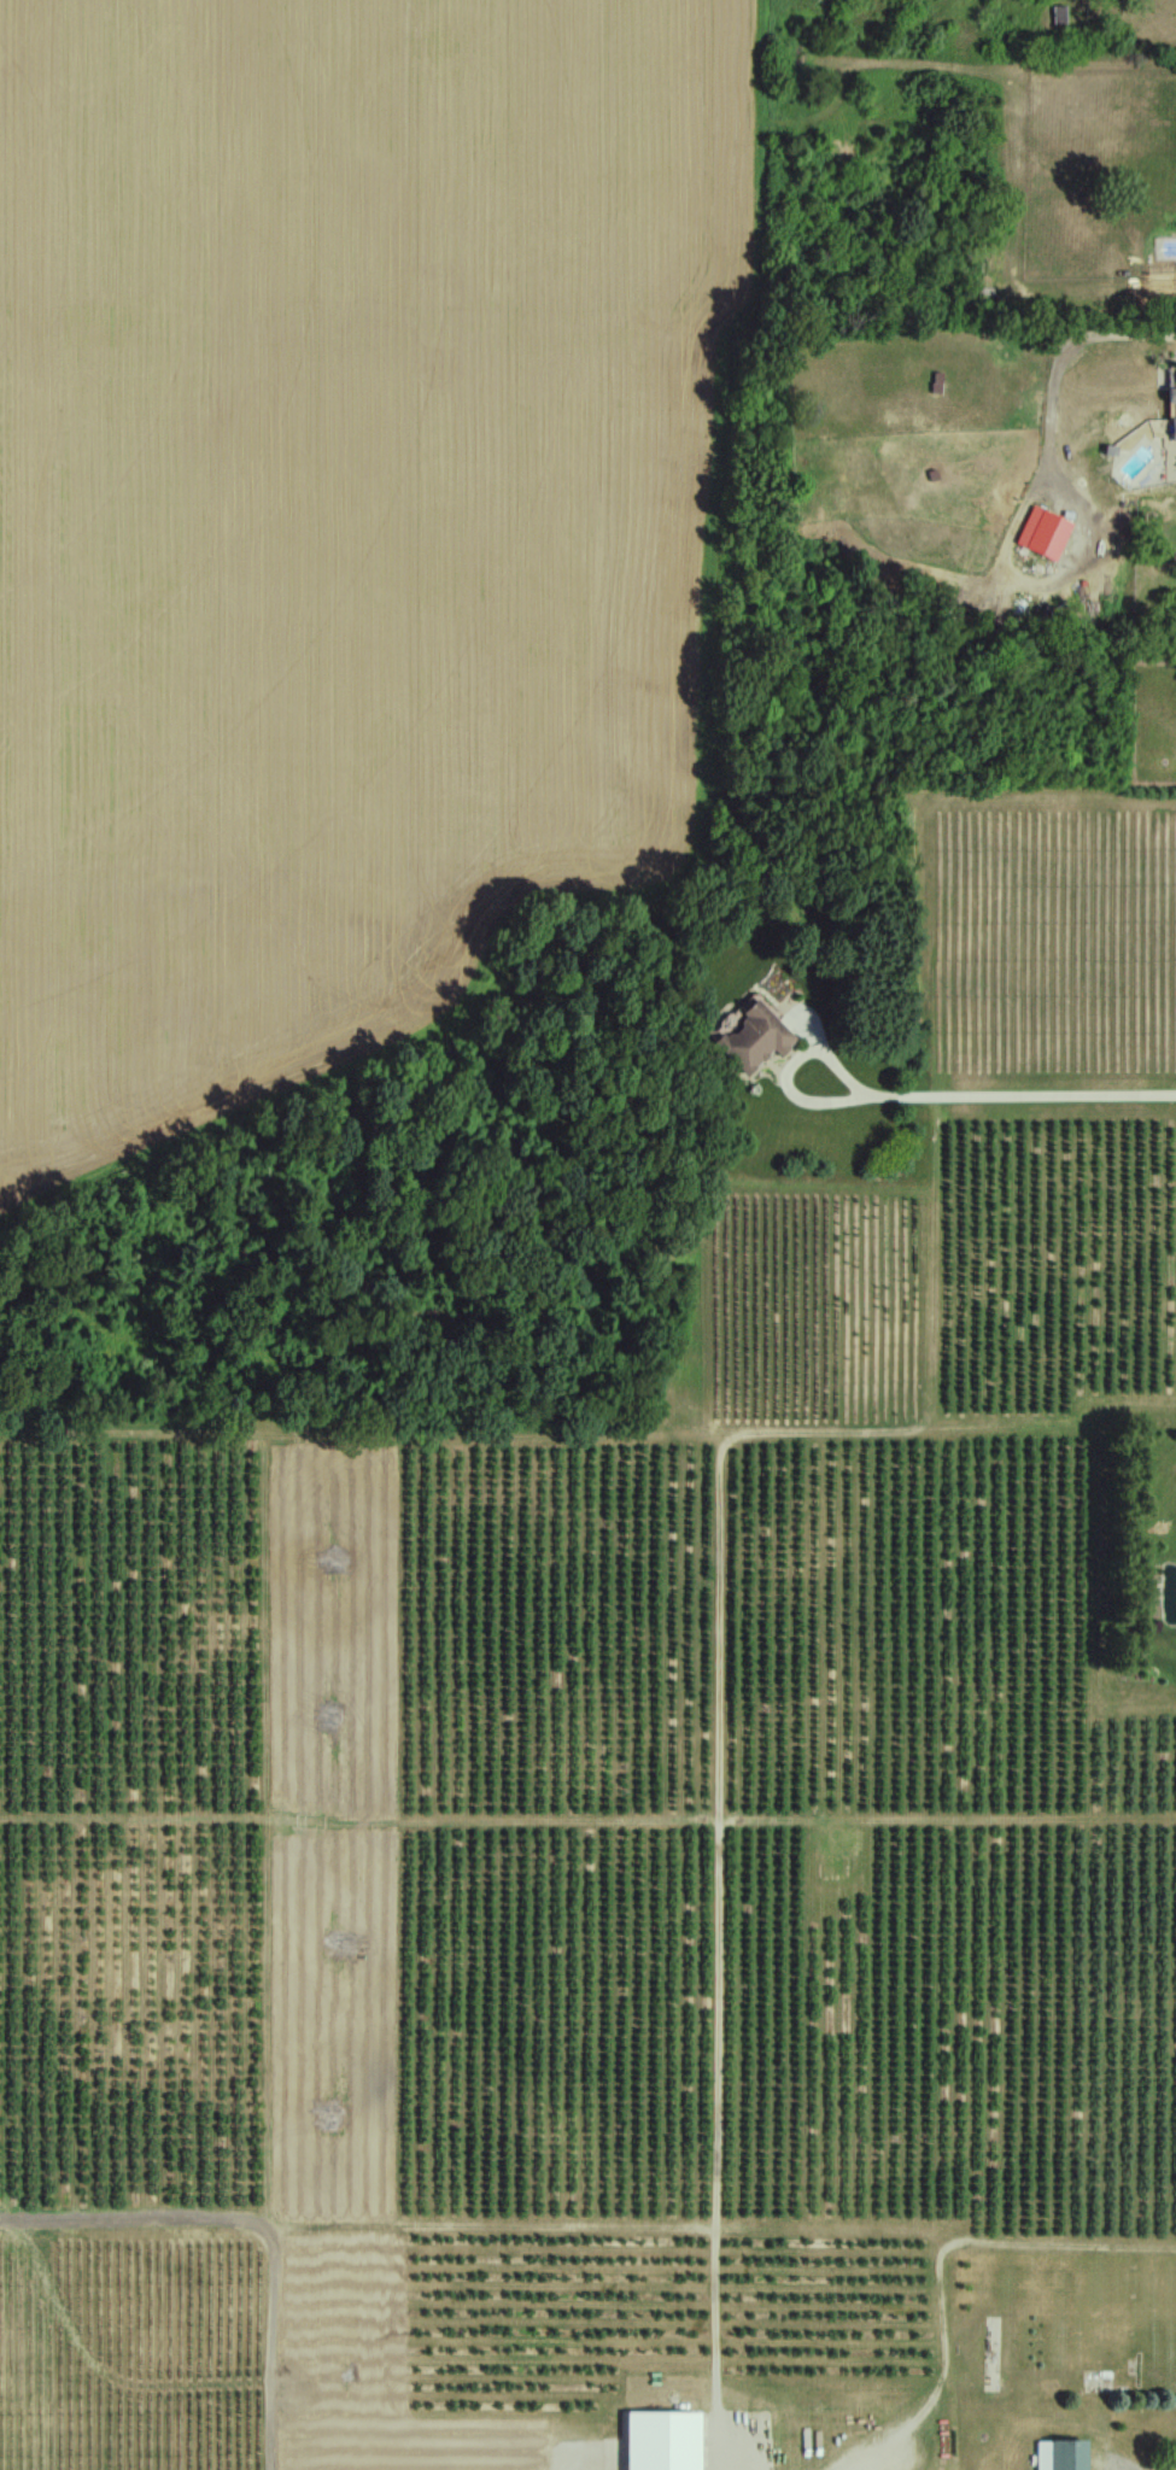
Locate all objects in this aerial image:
building: (1060, 16)
building: (1172, 404)
building: (755, 1038)
road: (794, 1069)
road: (1019, 1099)
building: (1041, 2454)
road: (1113, 2466)

